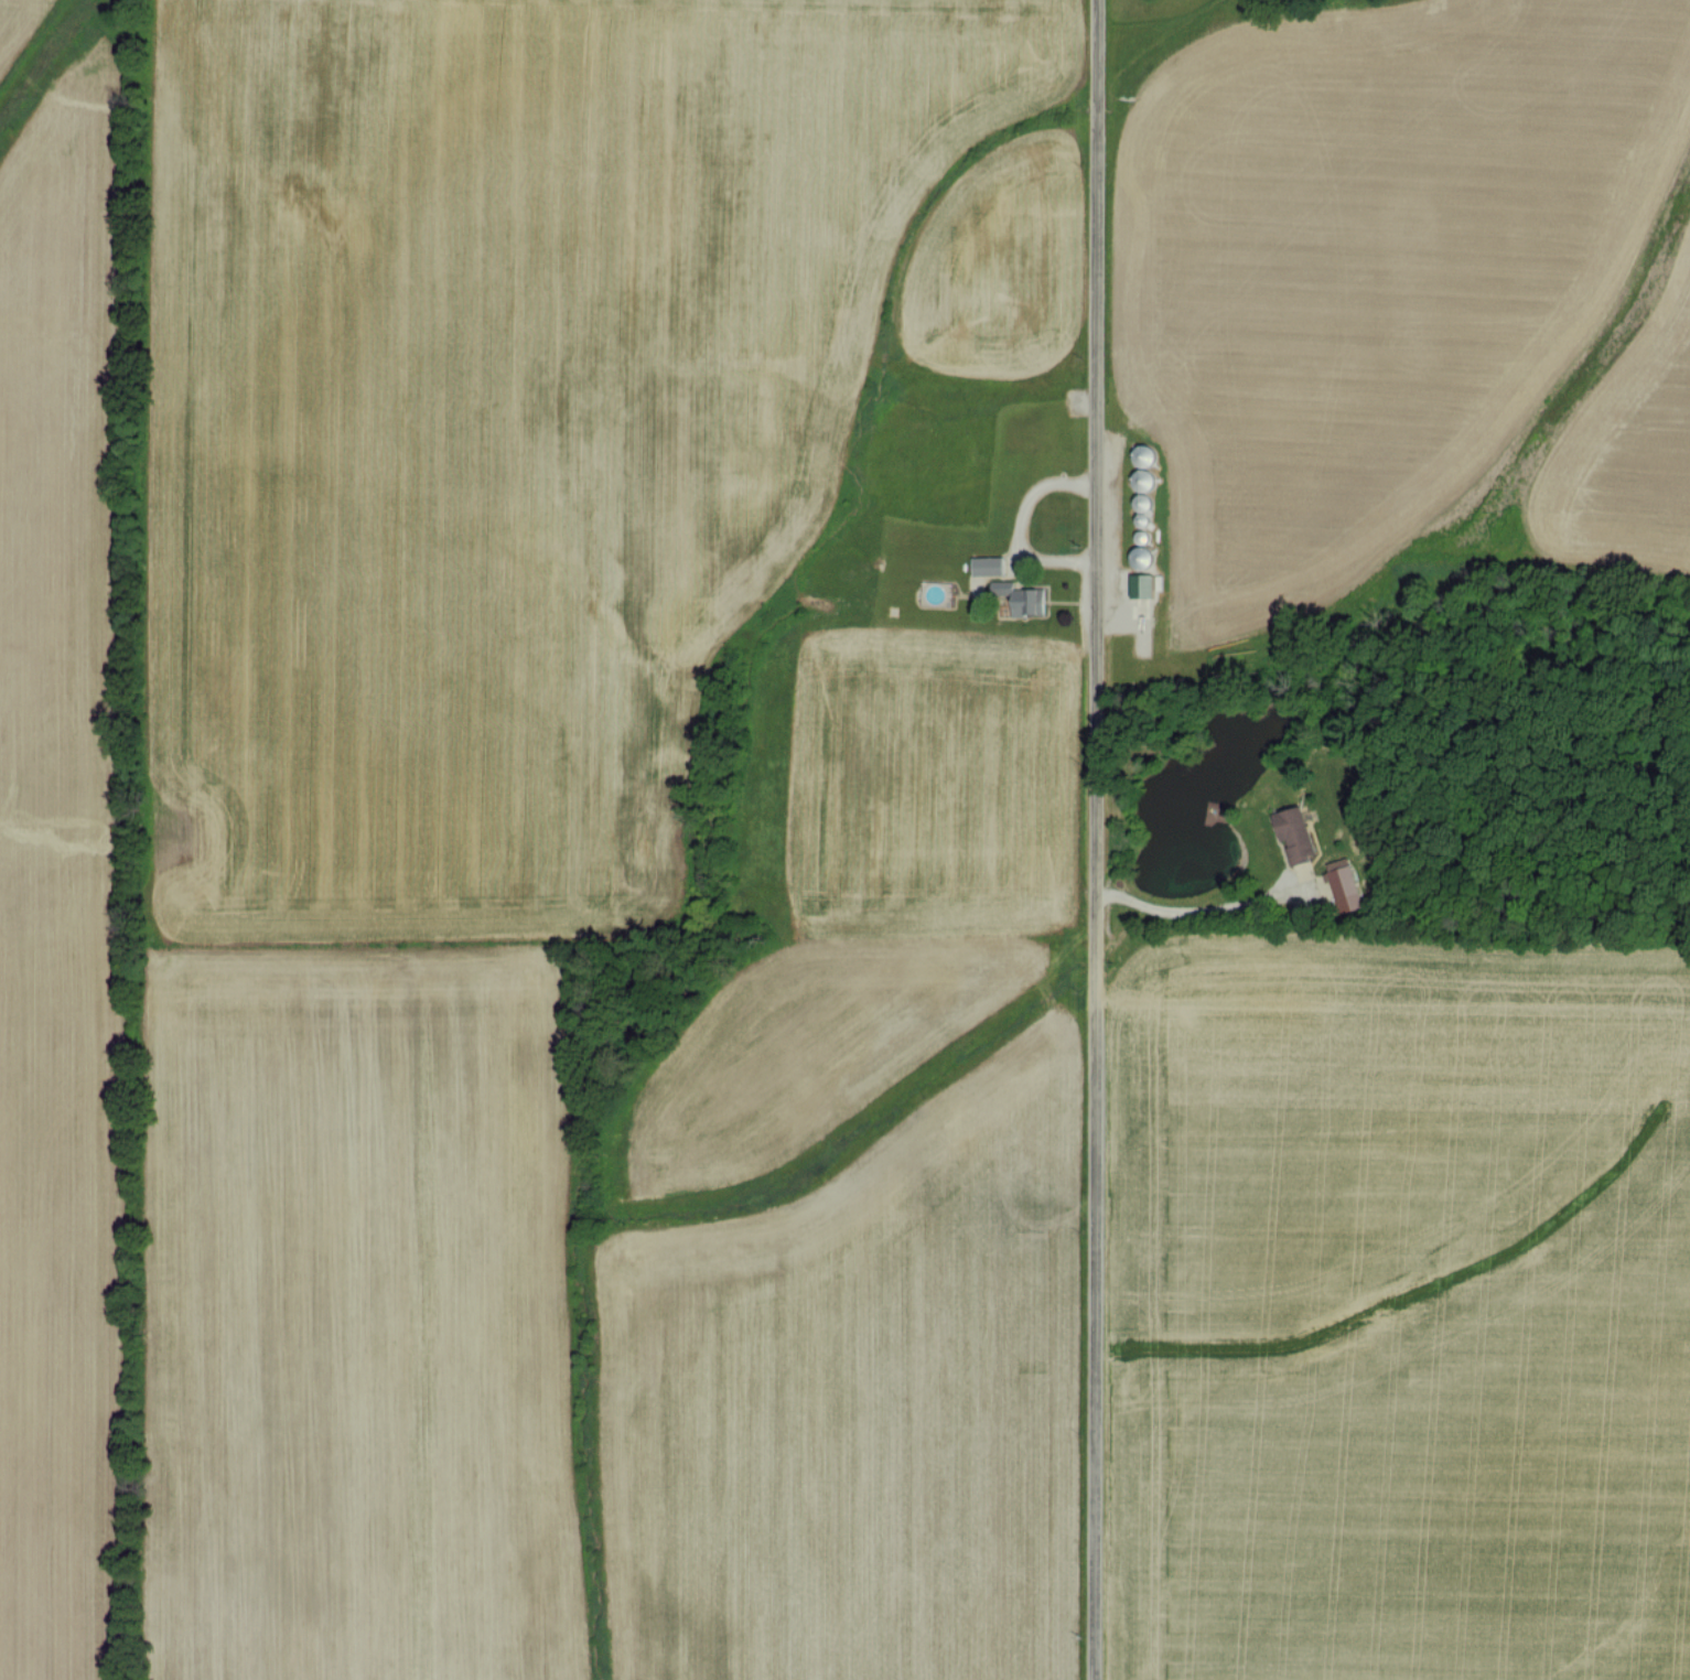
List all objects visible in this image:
road: (1020, 527)
building: (988, 563)
building: (1026, 599)
building: (1293, 830)
road: (1098, 839)
building: (1345, 886)
road: (1187, 915)

